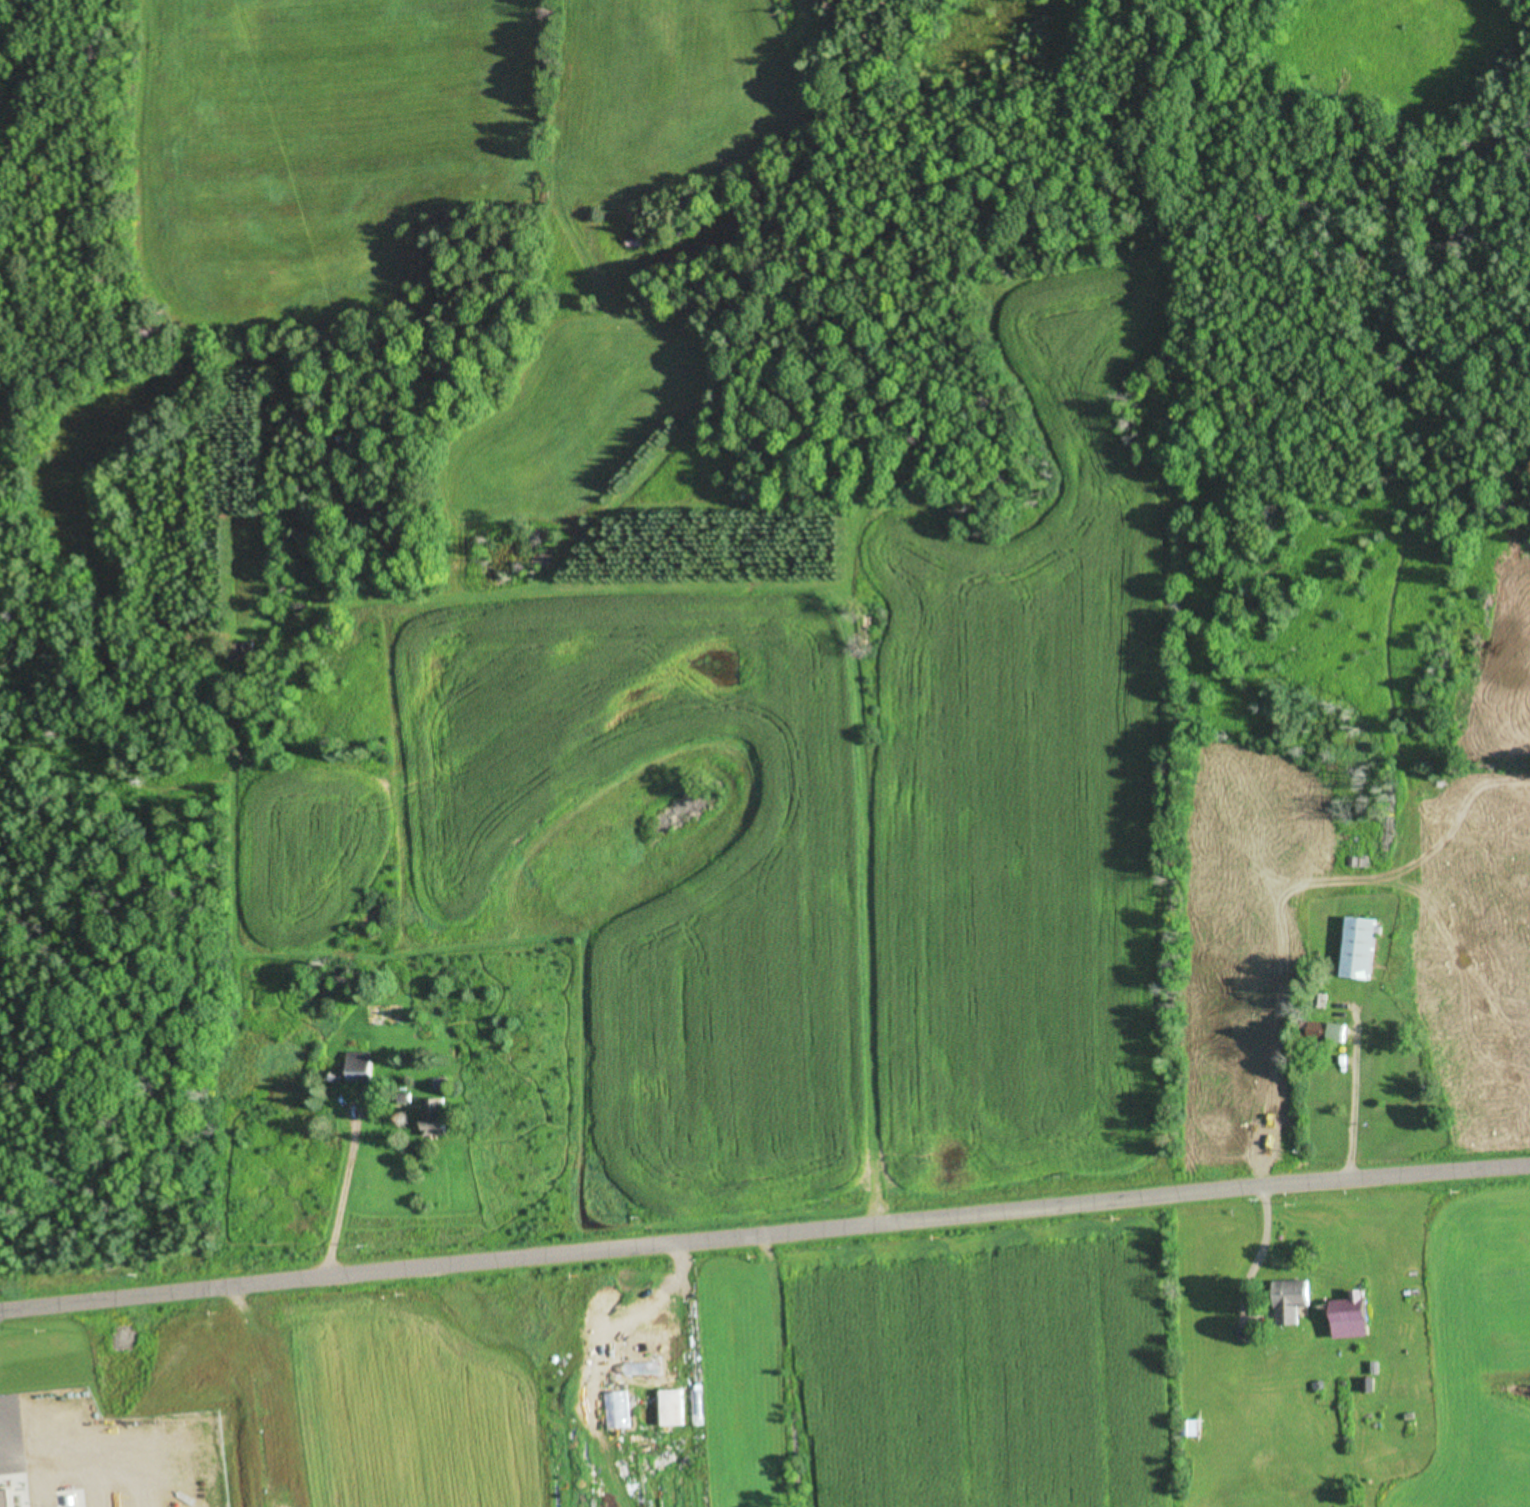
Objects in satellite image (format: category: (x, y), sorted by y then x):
road: (51, 105)
park: (69, 184)
building: (635, 239)
building: (242, 651)
building: (1354, 949)
building: (1317, 1031)
building: (358, 1068)
building: (437, 1117)
road: (764, 1236)
building: (1286, 1304)
building: (1341, 1317)
building: (673, 1407)
building: (1185, 1429)

